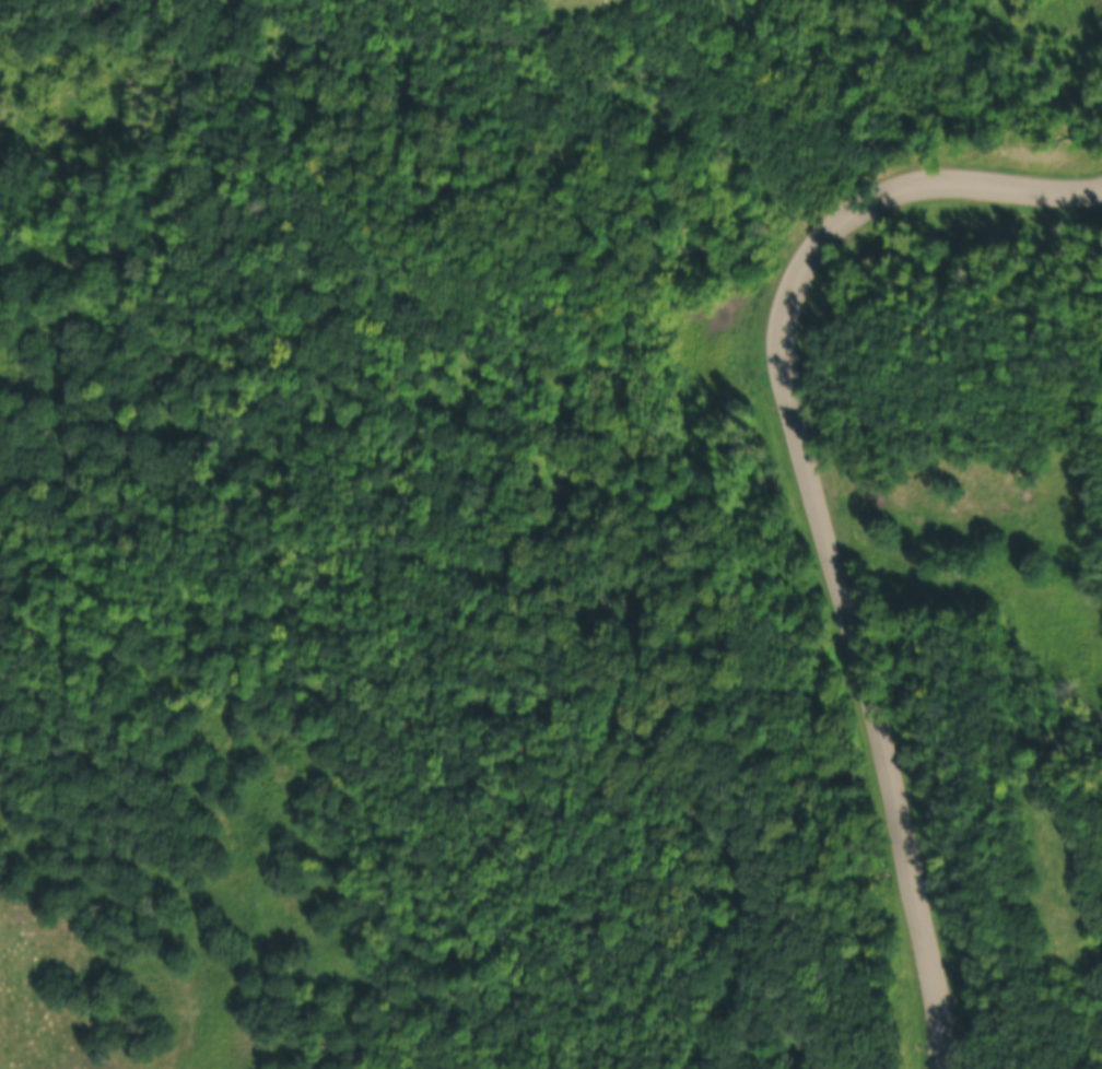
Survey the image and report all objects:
road: (816, 507)

